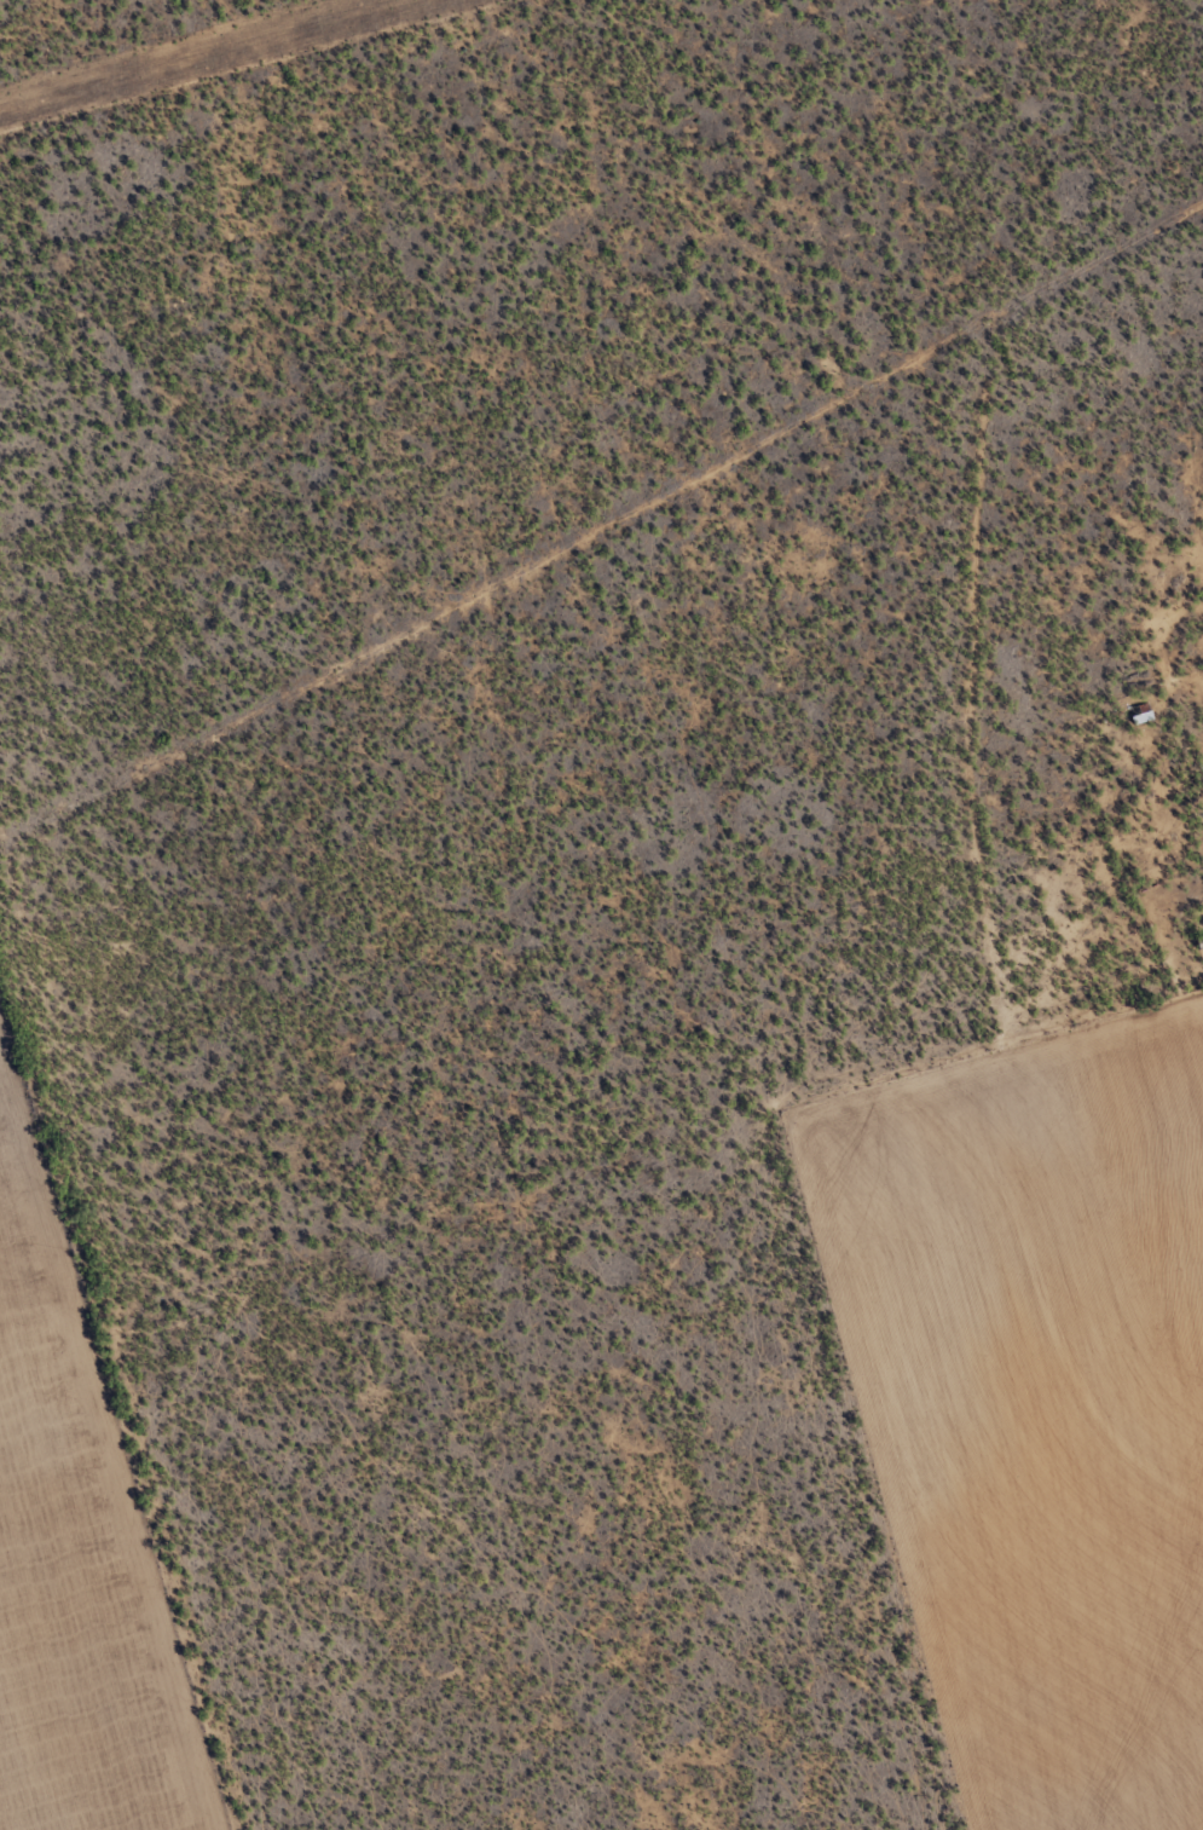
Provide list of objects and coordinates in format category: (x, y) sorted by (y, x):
building: (1139, 711)
building: (1199, 941)

